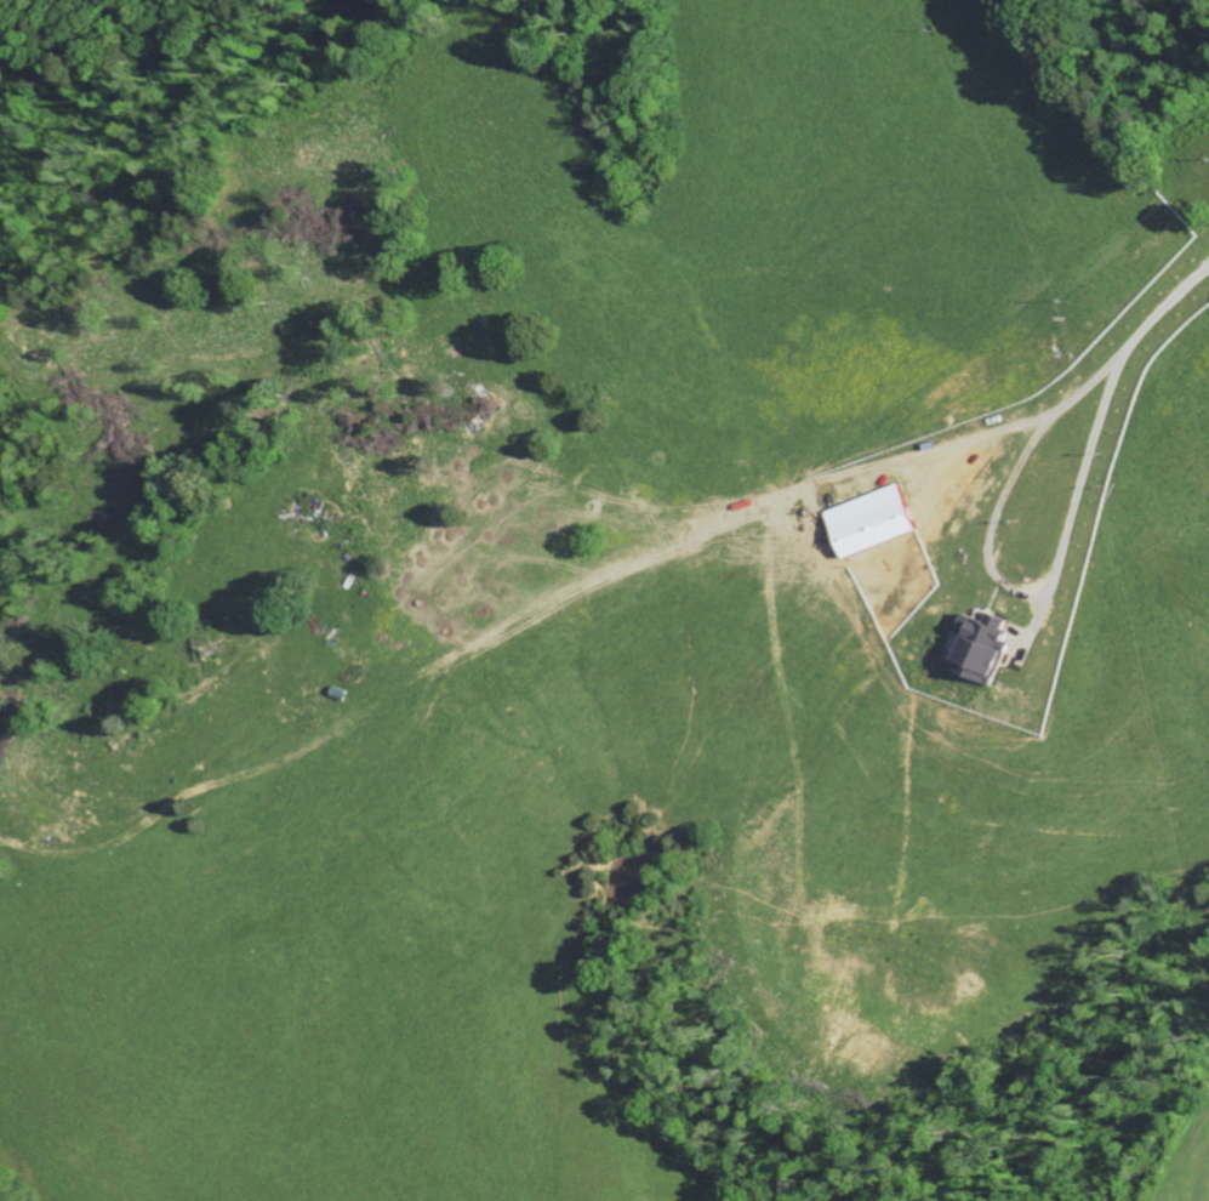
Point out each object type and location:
building: (882, 520)
building: (990, 645)

